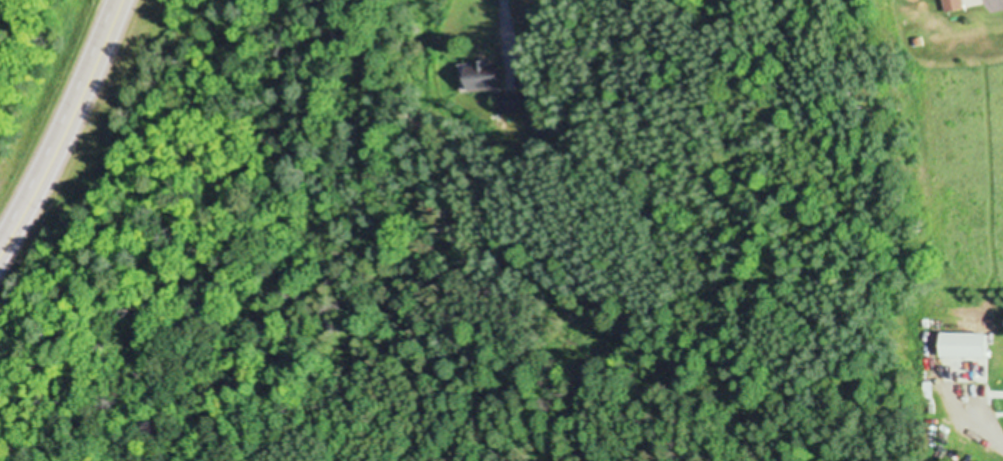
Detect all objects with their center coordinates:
road: (503, 27)
road: (67, 128)
road: (986, 430)

